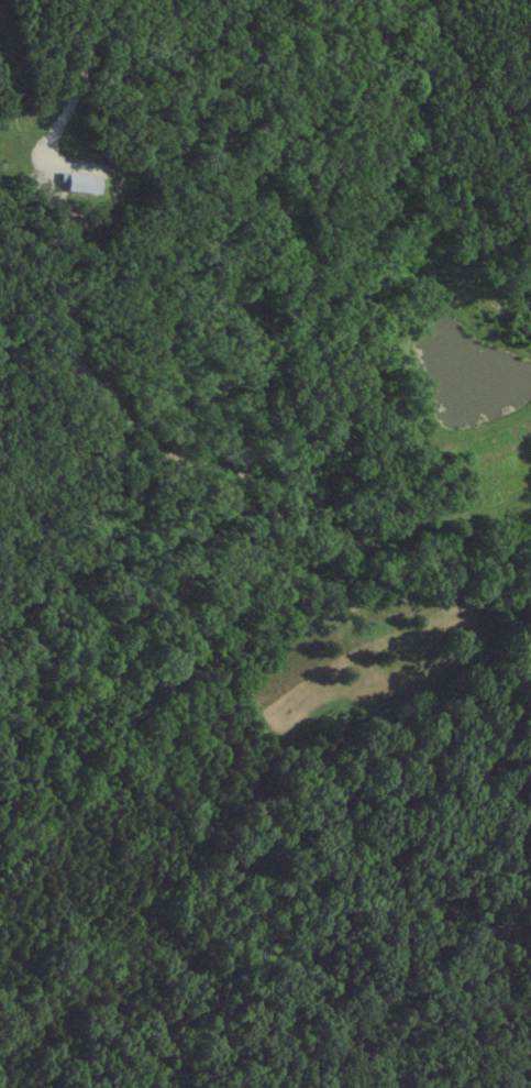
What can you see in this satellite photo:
road: (80, 81)
building: (80, 184)

